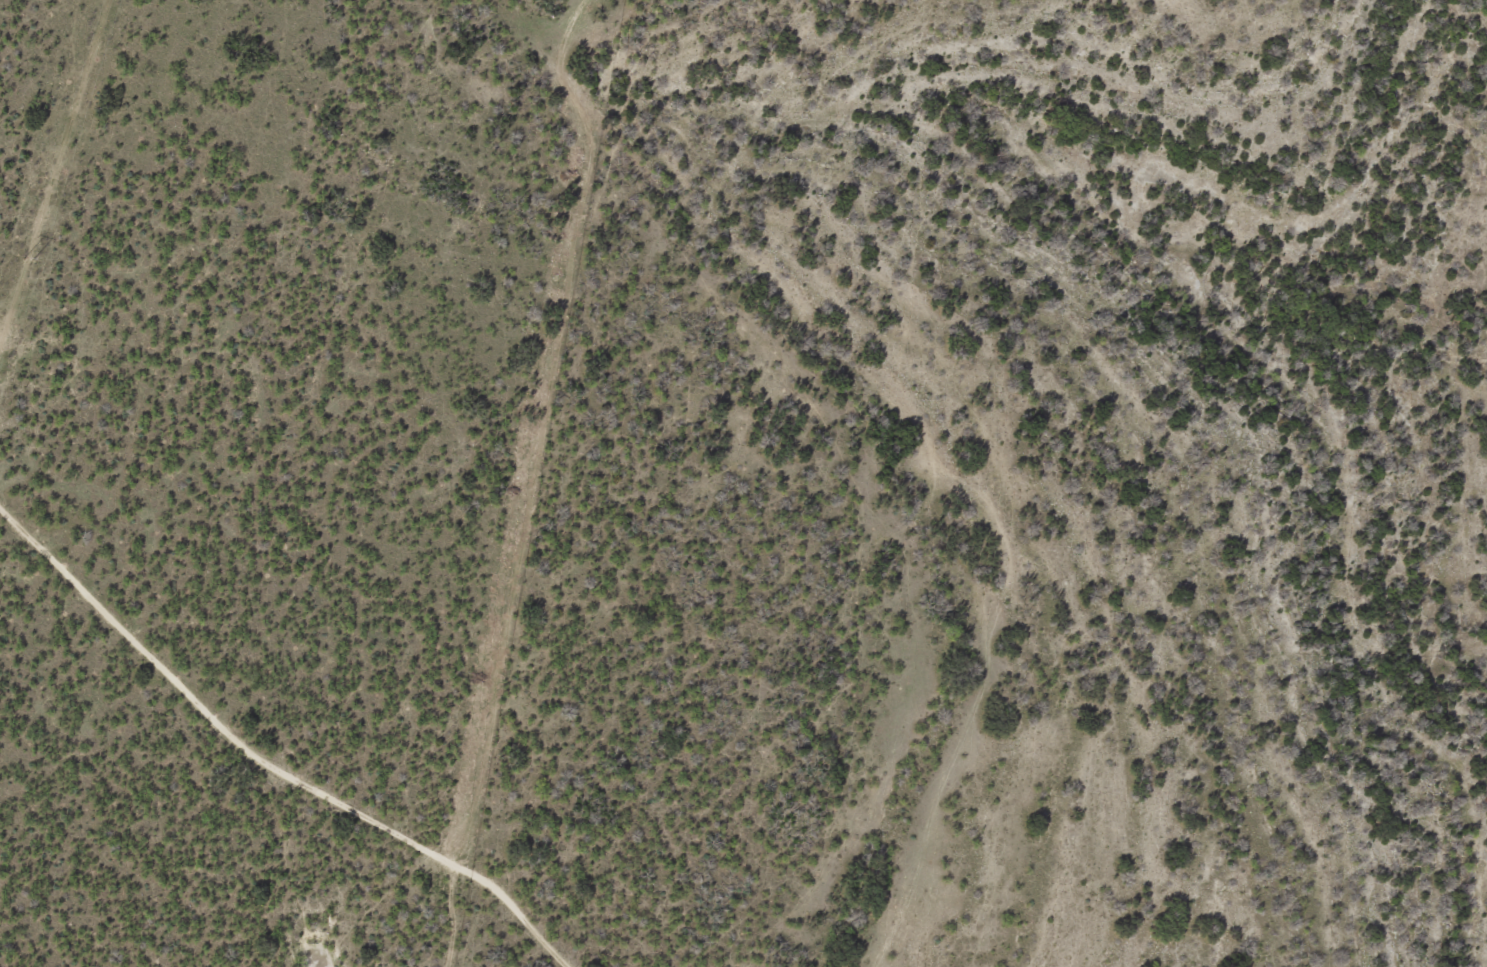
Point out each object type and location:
power tower: (27, 257)
road: (262, 772)

